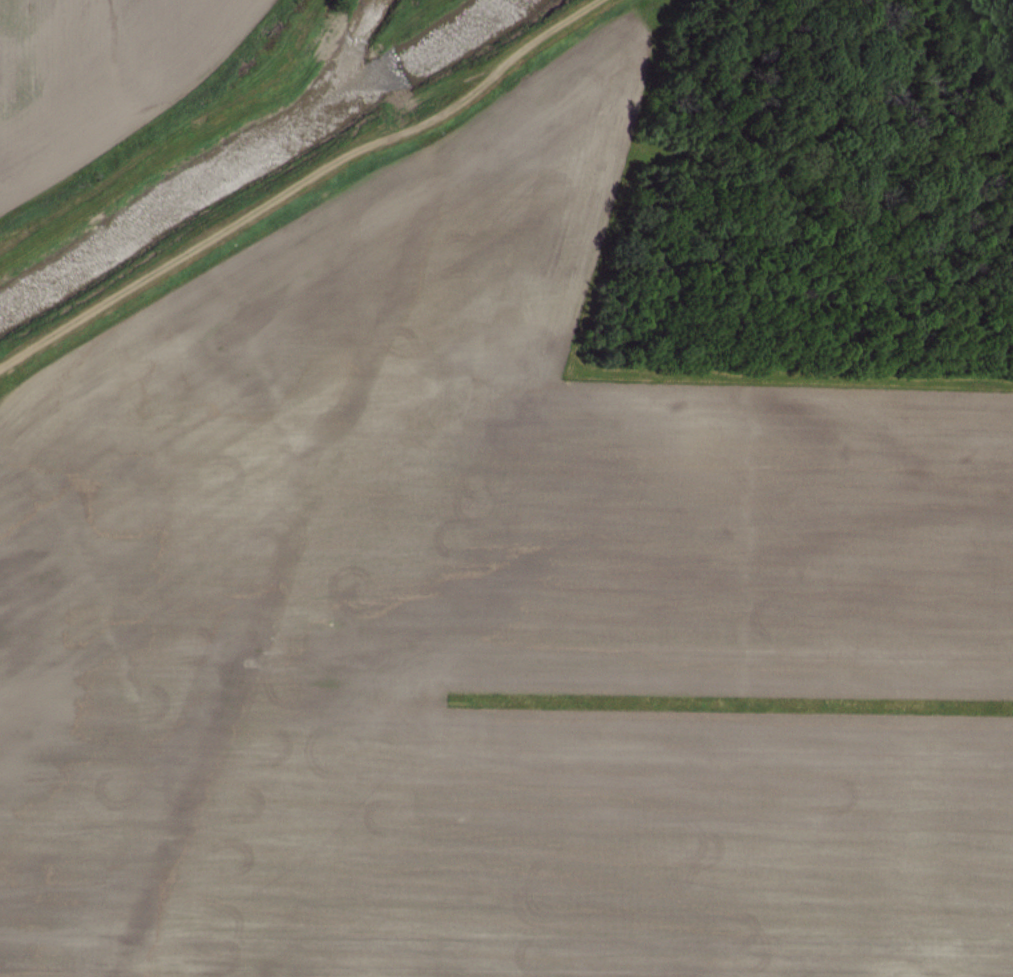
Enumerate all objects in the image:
road: (284, 173)

